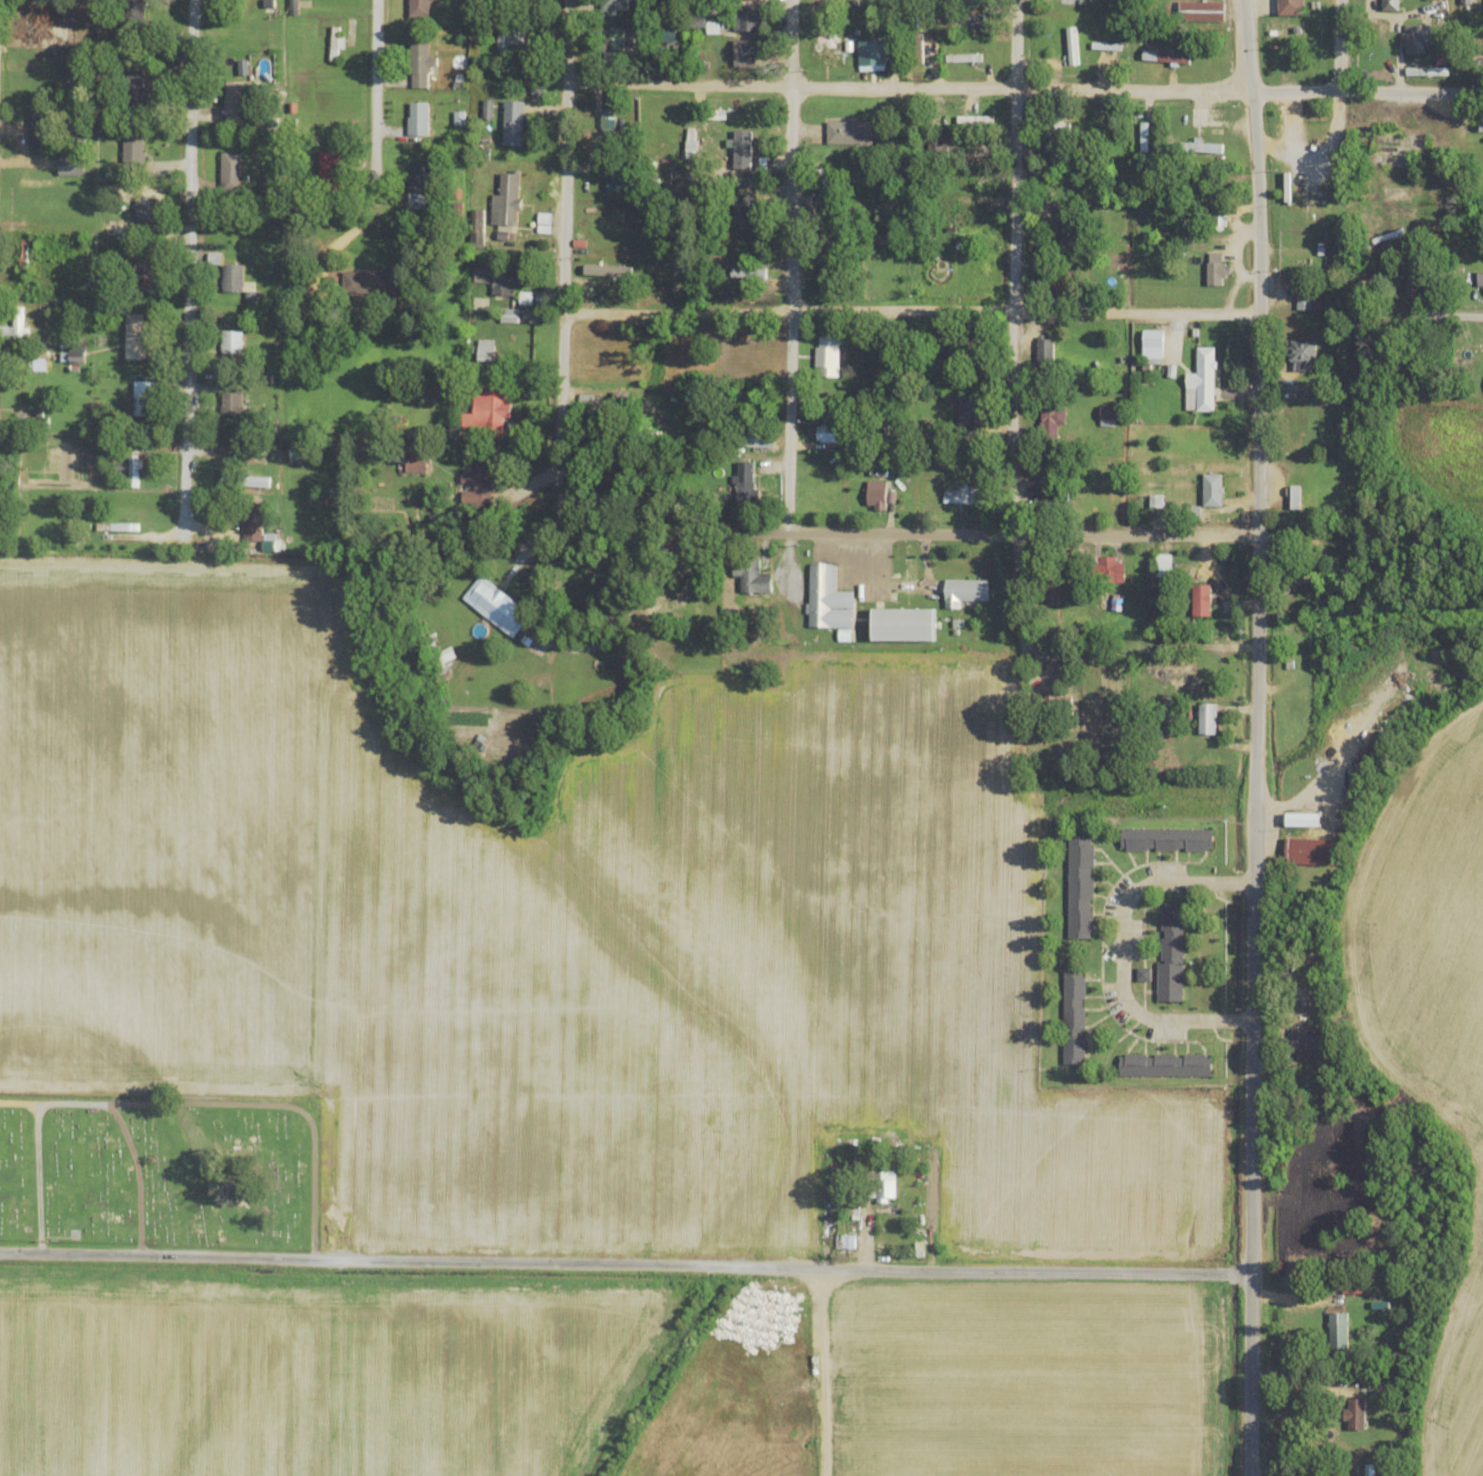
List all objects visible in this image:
building: (1481, 1)
building: (614, 6)
building: (1291, 7)
building: (419, 8)
building: (134, 10)
building: (1202, 11)
building: (747, 20)
building: (826, 29)
building: (1416, 38)
building: (511, 40)
building: (615, 42)
building: (335, 44)
building: (745, 53)
building: (964, 58)
building: (421, 63)
road: (1338, 65)
building: (134, 88)
road: (906, 88)
road: (1293, 91)
road: (1410, 91)
building: (237, 100)
building: (418, 118)
building: (513, 123)
building: (849, 132)
building: (1144, 137)
building: (1058, 141)
building: (1203, 148)
building: (742, 149)
building: (938, 149)
building: (133, 152)
road: (374, 156)
building: (71, 164)
building: (331, 166)
building: (231, 171)
building: (421, 178)
building: (507, 201)
building: (145, 209)
building: (748, 212)
building: (1219, 218)
building: (1068, 226)
building: (111, 227)
road: (190, 261)
road: (793, 265)
building: (145, 269)
building: (1216, 269)
road: (559, 272)
building: (749, 273)
building: (827, 276)
building: (498, 277)
building: (232, 278)
building: (370, 282)
building: (1420, 287)
building: (1303, 300)
road: (908, 309)
road: (1447, 313)
building: (15, 326)
building: (135, 336)
road: (1009, 337)
building: (232, 342)
building: (1153, 344)
building: (486, 350)
building: (1045, 351)
building: (1301, 356)
building: (827, 357)
building: (1202, 383)
building: (144, 399)
building: (231, 404)
building: (487, 410)
building: (970, 415)
building: (1108, 417)
building: (1053, 422)
building: (829, 434)
building: (758, 440)
building: (417, 463)
building: (134, 467)
building: (245, 482)
building: (745, 482)
building: (480, 489)
building: (1212, 491)
building: (877, 496)
building: (960, 498)
building: (1296, 498)
building: (252, 520)
road: (924, 532)
building: (1164, 566)
building: (1106, 570)
building: (753, 577)
building: (966, 592)
building: (829, 599)
building: (1203, 601)
building: (496, 607)
building: (695, 610)
building: (906, 625)
road: (1255, 635)
building: (447, 655)
building: (1207, 719)
building: (1304, 821)
building: (1167, 840)
building: (1311, 852)
building: (1081, 888)
building: (1171, 952)
road: (1123, 955)
building: (1074, 1018)
building: (1303, 1038)
building: (1166, 1065)
road: (228, 1104)
park: (162, 1170)
road: (137, 1176)
road: (36, 1178)
building: (885, 1187)
building: (842, 1242)
road: (624, 1265)
building: (1338, 1331)
road: (820, 1371)
road: (1249, 1374)
building: (1355, 1414)
building: (1369, 1470)

